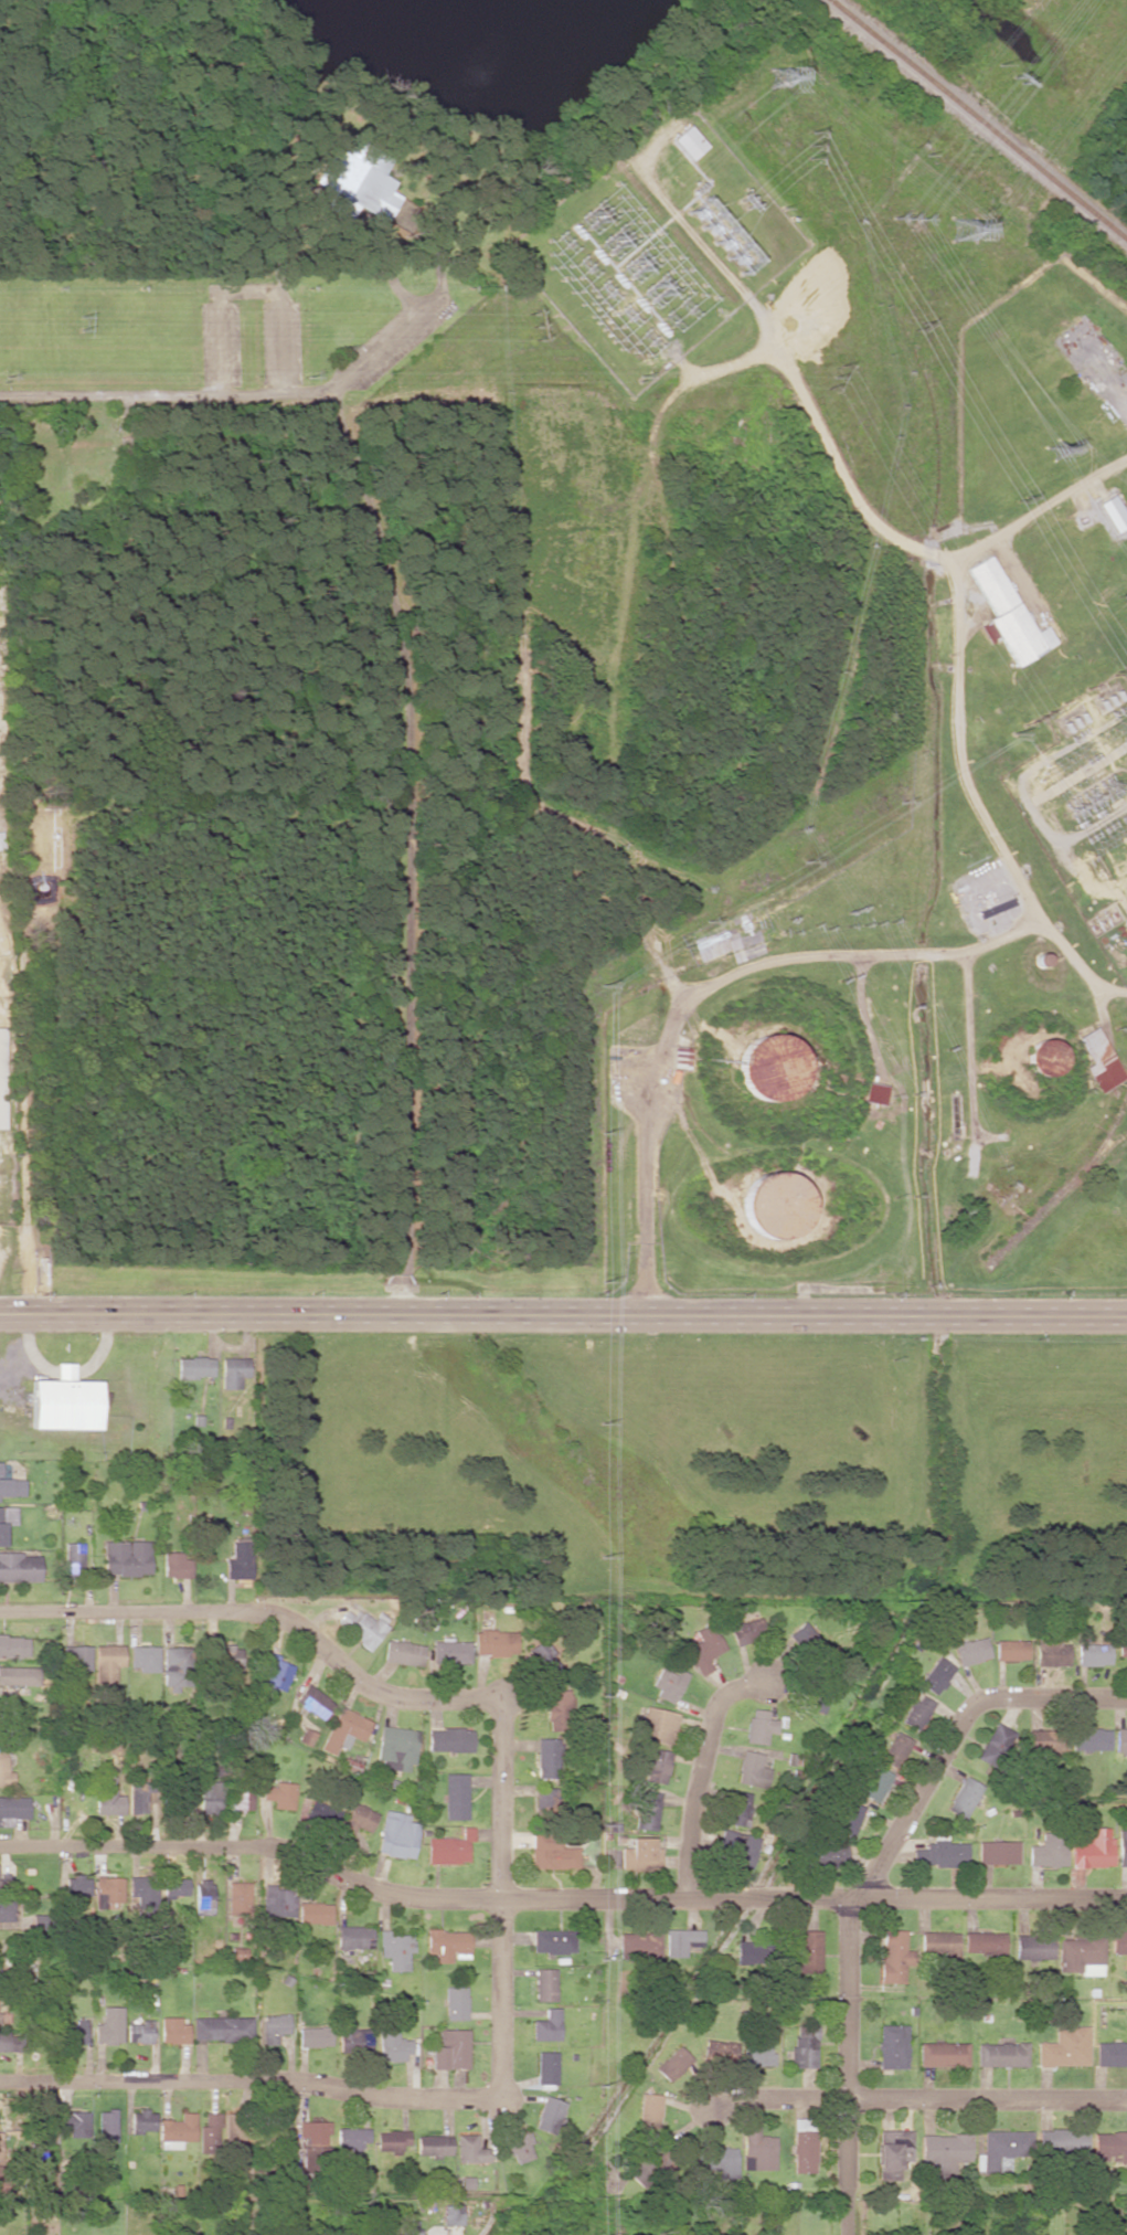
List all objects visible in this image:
power tower: (782, 78)
power tower: (1020, 82)
railway: (979, 123)
building: (687, 142)
power tower: (811, 146)
building: (359, 179)
power tower: (907, 221)
power tower: (967, 232)
power substation: (657, 245)
power tower: (78, 322)
power tower: (919, 328)
power tower: (532, 329)
road: (823, 439)
power tower: (1056, 452)
power tower: (1022, 500)
building: (1113, 512)
building: (1008, 614)
power tower: (1123, 668)
road: (391, 688)
power substation: (1078, 778)
road: (977, 801)
road: (704, 988)
building: (678, 1055)
building: (1046, 1057)
building: (1099, 1060)
building: (773, 1067)
building: (1, 1085)
building: (875, 1092)
building: (776, 1205)
road: (563, 1314)
building: (193, 1367)
building: (232, 1371)
building: (63, 1401)
building: (11, 1486)
building: (6, 1521)
building: (73, 1554)
building: (126, 1557)
building: (238, 1561)
building: (176, 1565)
building: (19, 1567)
building: (361, 1627)
building: (745, 1632)
building: (804, 1636)
building: (495, 1642)
building: (1121, 1644)
building: (703, 1649)
building: (1050, 1649)
building: (1010, 1650)
building: (970, 1651)
building: (403, 1652)
building: (450, 1652)
building: (1093, 1654)
building: (226, 1655)
building: (76, 1657)
building: (143, 1657)
building: (542, 1660)
building: (107, 1661)
building: (173, 1669)
building: (276, 1672)
building: (19, 1675)
building: (936, 1675)
building: (668, 1684)
road: (439, 1697)
building: (312, 1701)
building: (559, 1709)
building: (916, 1712)
building: (656, 1725)
building: (759, 1726)
building: (343, 1730)
building: (449, 1739)
building: (1089, 1739)
building: (1120, 1739)
building: (1039, 1740)
building: (993, 1744)
building: (896, 1746)
building: (395, 1748)
building: (546, 1757)
building: (658, 1766)
building: (4, 1769)
building: (751, 1770)
road: (698, 1775)
building: (870, 1782)
building: (279, 1794)
building: (242, 1796)
building: (455, 1796)
building: (210, 1797)
building: (963, 1797)
building: (137, 1798)
building: (107, 1800)
building: (545, 1801)
building: (737, 1808)
building: (13, 1809)
building: (648, 1810)
building: (320, 1812)
building: (848, 1818)
building: (359, 1819)
building: (397, 1835)
building: (449, 1847)
building: (736, 1847)
building: (1093, 1849)
building: (1121, 1849)
building: (552, 1852)
building: (997, 1852)
building: (1048, 1852)
building: (940, 1853)
building: (640, 1854)
building: (829, 1854)
road: (864, 1879)
building: (0, 1882)
building: (76, 1885)
building: (174, 1887)
building: (108, 1889)
building: (142, 1892)
building: (203, 1898)
building: (238, 1898)
road: (560, 1898)
building: (279, 1900)
building: (6, 1909)
building: (315, 1913)
building: (354, 1937)
building: (680, 1940)
building: (553, 1941)
building: (937, 1941)
building: (984, 1941)
building: (446, 1943)
building: (1120, 1943)
building: (640, 1945)
building: (1033, 1948)
building: (395, 1949)
building: (807, 1950)
building: (754, 1951)
building: (1078, 1952)
building: (893, 1956)
building: (545, 1984)
building: (455, 2003)
building: (109, 2025)
building: (546, 2025)
building: (275, 2026)
building: (222, 2027)
building: (173, 2030)
building: (76, 2032)
building: (139, 2032)
building: (313, 2036)
building: (354, 2037)
building: (9, 2041)
building: (802, 2045)
building: (393, 2046)
building: (892, 2046)
building: (1064, 2047)
building: (450, 2049)
building: (721, 2052)
building: (756, 2052)
building: (943, 2053)
building: (1110, 2053)
building: (1001, 2054)
building: (673, 2064)
building: (546, 2067)
road: (251, 2078)
road: (915, 2097)
building: (650, 2109)
building: (550, 2115)
building: (141, 2120)
building: (74, 2121)
building: (178, 2128)
building: (210, 2132)
building: (317, 2132)
building: (352, 2138)
building: (1062, 2140)
building: (393, 2141)
building: (434, 2144)
building: (518, 2146)
building: (804, 2146)
building: (1110, 2146)
building: (1002, 2147)
building: (470, 2149)
building: (757, 2149)
building: (38, 2152)
building: (891, 2152)
building: (944, 2152)
building: (719, 2161)
building: (649, 2163)
building: (451, 2214)
building: (408, 2227)

